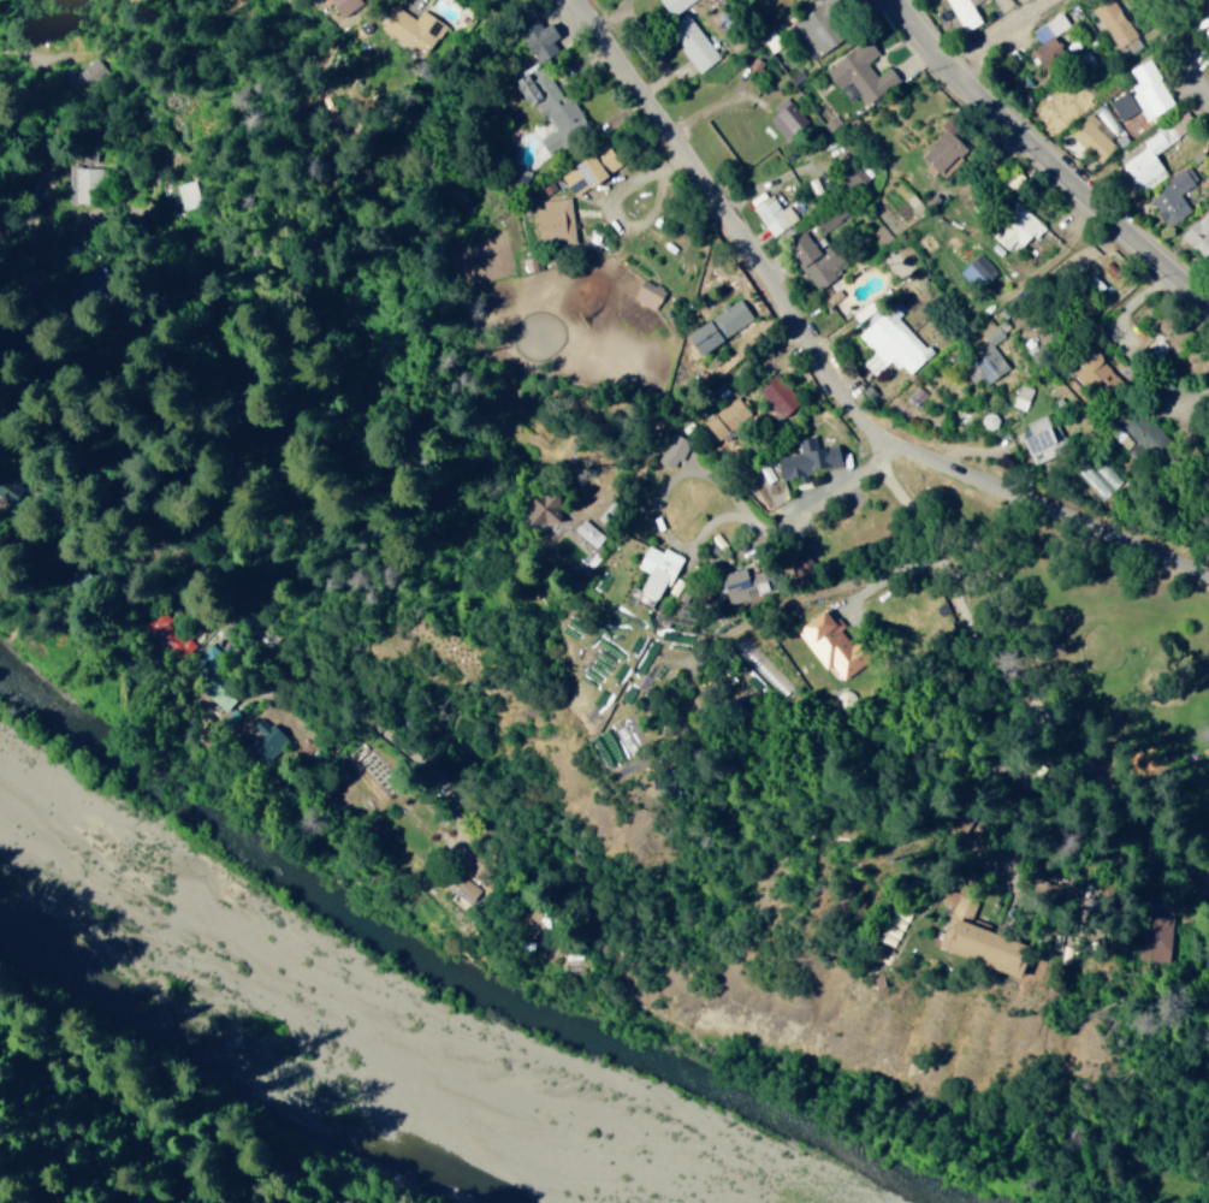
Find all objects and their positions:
building: (675, 4)
building: (965, 13)
building: (1115, 22)
building: (414, 28)
building: (820, 29)
building: (1049, 35)
building: (541, 37)
building: (693, 41)
road: (1163, 53)
building: (863, 73)
building: (1142, 91)
road: (881, 96)
building: (553, 108)
building: (787, 117)
building: (1096, 132)
building: (947, 150)
road: (1047, 152)
building: (1144, 158)
building: (593, 168)
building: (857, 176)
building: (81, 182)
building: (1173, 195)
building: (771, 213)
building: (558, 220)
building: (1018, 225)
building: (1199, 233)
building: (819, 262)
building: (978, 269)
building: (650, 294)
building: (721, 325)
building: (891, 343)
building: (991, 354)
road: (824, 371)
building: (780, 396)
building: (729, 417)
building: (1150, 435)
building: (1041, 438)
building: (674, 449)
road: (147, 454)
building: (810, 458)
building: (570, 518)
road: (792, 520)
building: (658, 571)
building: (748, 580)
road: (1133, 614)
building: (162, 636)
building: (836, 644)
road: (1112, 650)
building: (763, 666)
building: (220, 694)
road: (1020, 701)
building: (378, 770)
building: (989, 936)
building: (1163, 938)
river: (96, 1006)
river: (559, 1038)

